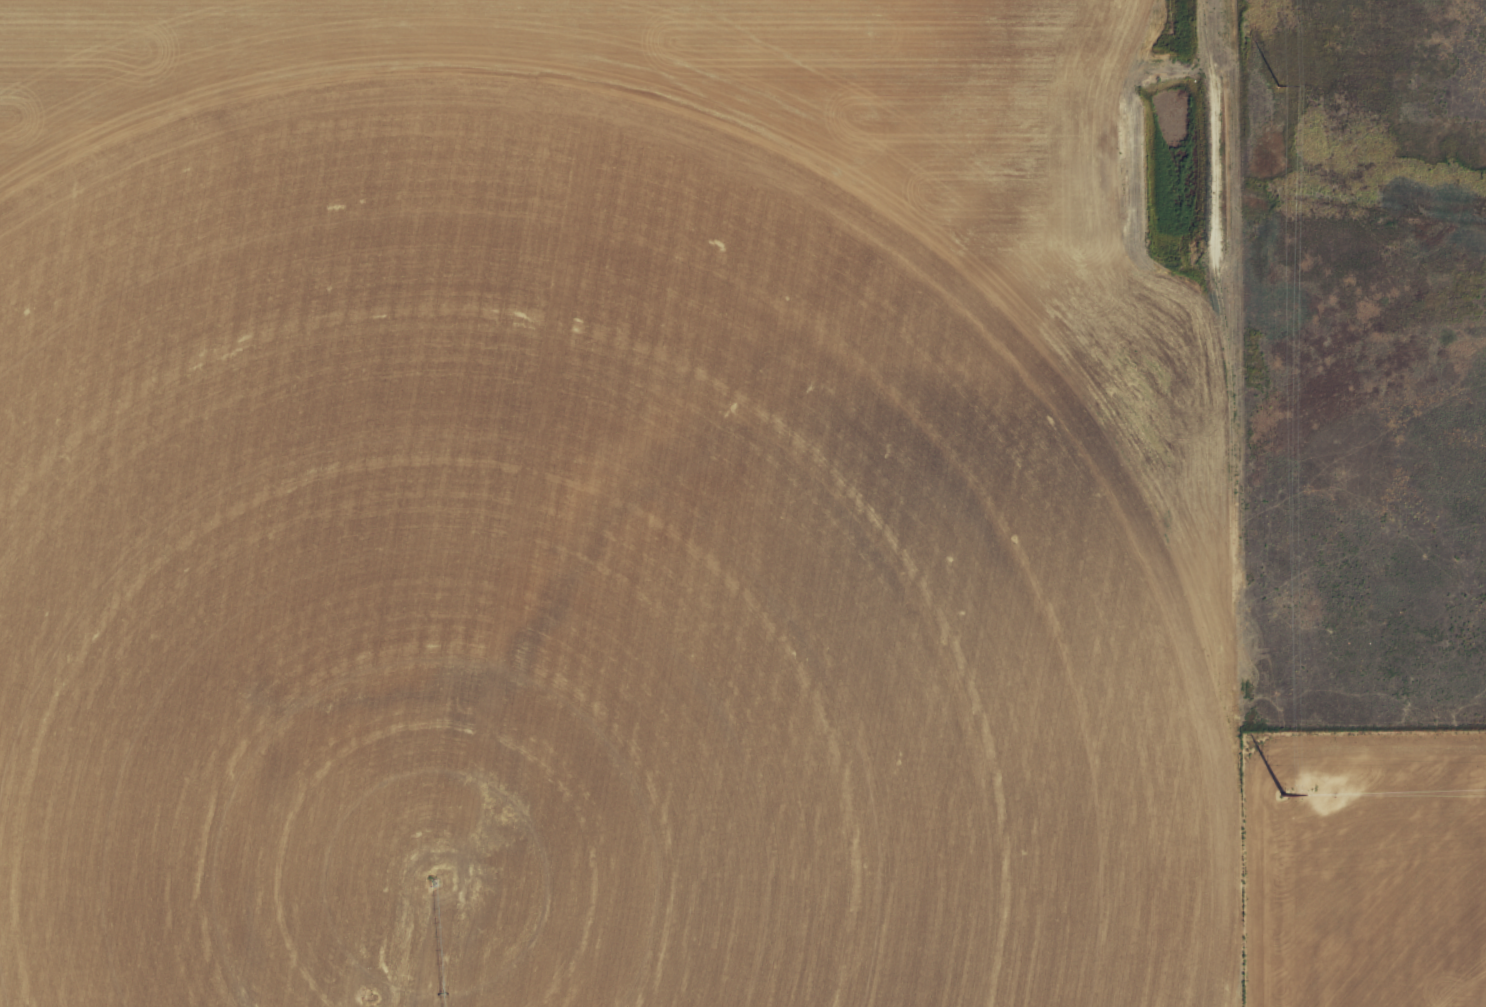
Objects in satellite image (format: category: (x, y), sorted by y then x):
power tower: (1281, 91)
power tower: (1284, 796)

